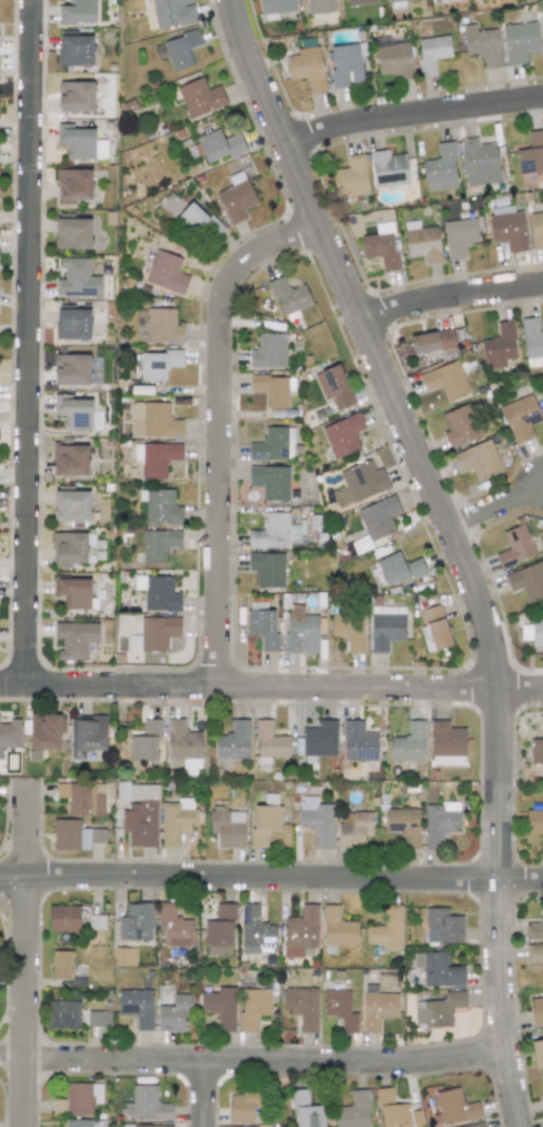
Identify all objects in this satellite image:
building: (397, 0)
building: (358, 1)
building: (276, 6)
building: (320, 6)
building: (78, 11)
building: (172, 12)
building: (519, 41)
building: (482, 45)
building: (181, 49)
building: (76, 50)
building: (432, 52)
building: (395, 59)
building: (346, 63)
building: (306, 68)
building: (75, 97)
building: (200, 97)
road: (412, 112)
building: (78, 142)
building: (218, 145)
building: (100, 149)
building: (531, 154)
building: (478, 161)
building: (387, 168)
building: (441, 168)
building: (351, 177)
building: (73, 185)
building: (236, 200)
building: (198, 223)
building: (536, 229)
building: (509, 230)
building: (72, 234)
building: (460, 236)
building: (422, 241)
building: (381, 246)
building: (167, 273)
building: (77, 278)
road: (450, 294)
building: (289, 297)
building: (72, 324)
building: (162, 326)
road: (26, 342)
building: (432, 342)
building: (500, 346)
building: (268, 352)
building: (158, 363)
building: (71, 369)
building: (445, 379)
building: (334, 387)
building: (270, 389)
building: (76, 413)
building: (521, 417)
building: (154, 421)
building: (461, 425)
road: (218, 427)
road: (405, 431)
building: (343, 435)
building: (156, 458)
building: (70, 459)
building: (478, 459)
building: (269, 481)
building: (363, 481)
building: (71, 505)
road: (495, 505)
building: (161, 507)
building: (375, 521)
building: (275, 532)
building: (159, 544)
building: (515, 546)
building: (70, 548)
building: (267, 569)
building: (397, 569)
building: (527, 581)
building: (72, 591)
building: (158, 593)
building: (261, 624)
building: (386, 626)
building: (436, 626)
building: (349, 631)
building: (533, 632)
building: (158, 633)
building: (302, 633)
building: (76, 639)
road: (271, 684)
building: (45, 732)
building: (9, 734)
building: (87, 735)
building: (320, 739)
building: (234, 740)
building: (269, 741)
building: (358, 741)
building: (145, 742)
building: (408, 743)
building: (446, 744)
building: (184, 745)
building: (536, 751)
building: (83, 798)
building: (139, 812)
building: (177, 820)
building: (316, 820)
building: (534, 821)
building: (440, 822)
building: (265, 823)
building: (403, 824)
building: (227, 827)
building: (354, 829)
building: (75, 836)
road: (246, 879)
road: (517, 881)
building: (63, 918)
building: (136, 922)
building: (175, 926)
building: (443, 926)
building: (337, 927)
building: (534, 928)
building: (386, 929)
building: (220, 930)
building: (255, 931)
building: (300, 931)
building: (534, 953)
building: (124, 956)
road: (24, 958)
building: (61, 965)
building: (437, 969)
road: (500, 1005)
building: (302, 1006)
building: (136, 1007)
building: (220, 1007)
building: (254, 1007)
building: (377, 1008)
building: (340, 1009)
building: (438, 1010)
building: (537, 1010)
building: (174, 1012)
building: (63, 1014)
building: (98, 1018)
building: (537, 1052)
road: (13, 1056)
road: (266, 1060)
road: (207, 1094)
building: (78, 1098)
building: (542, 1098)
building: (148, 1104)
building: (245, 1105)
building: (455, 1107)
building: (306, 1110)
building: (353, 1110)
building: (396, 1111)
building: (82, 1123)
building: (147, 1125)
building: (478, 1126)

